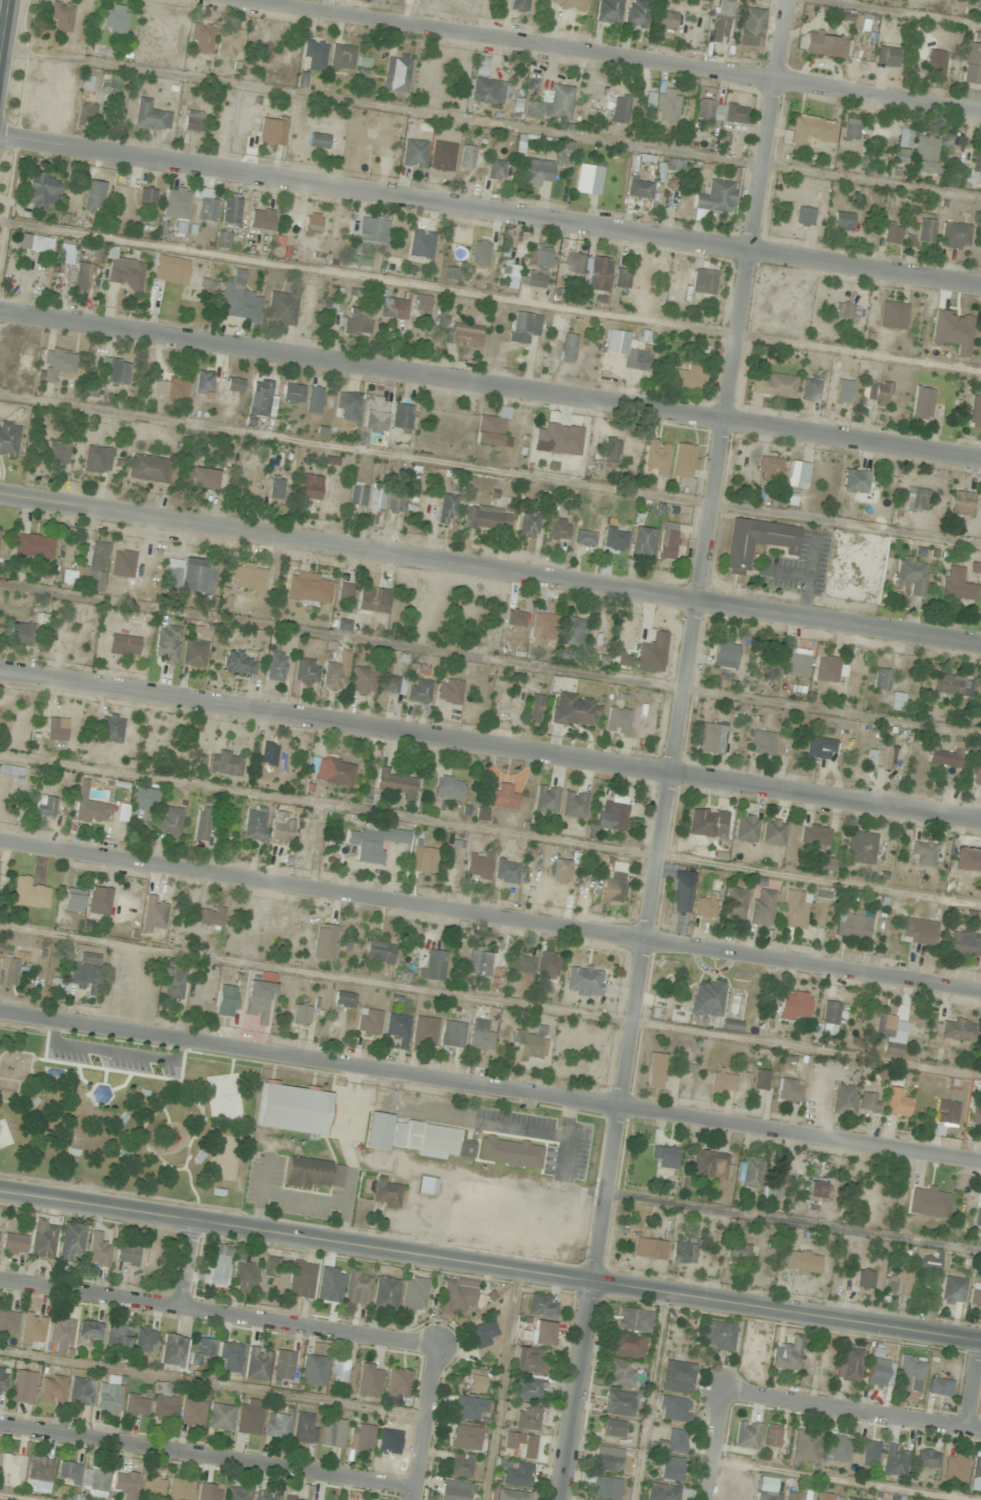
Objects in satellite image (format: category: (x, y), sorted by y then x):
road: (0, 1)
building: (567, 4)
building: (973, 5)
building: (518, 6)
building: (607, 11)
building: (636, 14)
building: (61, 17)
building: (114, 20)
building: (664, 21)
building: (720, 22)
building: (750, 29)
building: (201, 37)
building: (229, 43)
building: (824, 44)
road: (603, 54)
building: (314, 55)
building: (885, 56)
building: (341, 59)
building: (934, 62)
building: (971, 65)
building: (479, 70)
building: (396, 73)
building: (362, 76)
building: (87, 83)
building: (596, 90)
building: (487, 91)
building: (663, 102)
building: (551, 104)
building: (619, 108)
building: (708, 109)
building: (86, 114)
building: (735, 114)
building: (150, 116)
building: (192, 121)
building: (272, 130)
building: (810, 130)
building: (850, 130)
building: (369, 137)
building: (318, 141)
building: (902, 147)
building: (924, 150)
building: (564, 152)
building: (413, 154)
building: (466, 158)
building: (673, 165)
building: (974, 168)
building: (495, 170)
building: (538, 171)
building: (588, 177)
building: (639, 189)
building: (41, 190)
building: (93, 196)
building: (146, 196)
building: (716, 197)
building: (176, 203)
building: (205, 206)
building: (231, 209)
road: (490, 213)
building: (803, 216)
building: (261, 219)
building: (842, 221)
building: (315, 225)
building: (918, 228)
building: (371, 232)
building: (891, 232)
building: (953, 236)
building: (222, 239)
building: (34, 243)
building: (420, 246)
building: (65, 252)
building: (482, 257)
building: (540, 257)
building: (576, 263)
building: (169, 267)
building: (125, 273)
building: (451, 273)
building: (598, 274)
building: (78, 279)
building: (621, 279)
building: (532, 281)
building: (703, 282)
building: (238, 300)
building: (421, 303)
building: (393, 308)
building: (281, 310)
building: (846, 312)
building: (892, 315)
building: (357, 322)
building: (523, 327)
building: (951, 330)
building: (461, 337)
building: (567, 347)
building: (629, 359)
building: (57, 364)
building: (116, 371)
building: (688, 379)
building: (203, 383)
building: (234, 385)
road: (490, 386)
building: (774, 386)
building: (166, 387)
building: (809, 388)
building: (842, 391)
building: (875, 392)
building: (292, 393)
building: (261, 399)
building: (314, 400)
building: (920, 403)
building: (347, 406)
building: (974, 412)
building: (374, 414)
building: (401, 418)
building: (492, 429)
building: (361, 438)
building: (8, 439)
building: (557, 440)
building: (57, 452)
building: (606, 457)
building: (656, 457)
building: (97, 459)
building: (682, 460)
building: (151, 469)
building: (769, 469)
building: (797, 474)
building: (200, 478)
building: (855, 481)
building: (308, 487)
building: (275, 489)
building: (357, 494)
building: (376, 498)
building: (914, 500)
building: (394, 502)
building: (960, 504)
building: (446, 508)
building: (486, 518)
building: (528, 525)
building: (557, 529)
building: (0, 538)
building: (596, 540)
building: (667, 540)
building: (642, 541)
building: (756, 542)
building: (35, 546)
building: (92, 569)
road: (490, 571)
building: (189, 576)
building: (910, 576)
building: (247, 578)
building: (956, 587)
building: (308, 589)
building: (346, 592)
building: (373, 600)
building: (343, 626)
building: (543, 626)
building: (515, 631)
building: (573, 632)
building: (21, 634)
road: (691, 641)
building: (167, 643)
building: (123, 645)
building: (194, 654)
building: (725, 654)
building: (794, 662)
building: (239, 664)
building: (276, 665)
building: (826, 669)
building: (306, 671)
building: (336, 673)
building: (361, 680)
building: (880, 680)
building: (392, 685)
building: (950, 685)
building: (419, 691)
building: (448, 691)
building: (895, 701)
building: (534, 708)
building: (575, 711)
building: (617, 720)
building: (56, 729)
building: (110, 730)
building: (711, 738)
building: (761, 742)
road: (490, 748)
building: (819, 748)
building: (878, 757)
building: (944, 757)
building: (271, 761)
building: (10, 771)
building: (332, 771)
building: (976, 777)
building: (394, 784)
building: (448, 786)
building: (142, 798)
building: (502, 798)
building: (545, 801)
building: (574, 805)
building: (45, 806)
building: (89, 807)
building: (612, 814)
building: (169, 821)
building: (254, 823)
building: (707, 823)
building: (202, 824)
building: (282, 828)
building: (745, 828)
building: (772, 832)
building: (813, 835)
building: (371, 843)
building: (860, 847)
building: (921, 853)
building: (421, 859)
building: (967, 860)
building: (826, 863)
building: (478, 866)
building: (560, 871)
building: (506, 872)
building: (614, 883)
building: (980, 886)
building: (17, 889)
building: (41, 893)
building: (681, 896)
building: (73, 900)
building: (99, 901)
building: (734, 902)
building: (761, 907)
building: (705, 908)
building: (794, 909)
building: (153, 915)
building: (208, 915)
road: (490, 915)
building: (853, 925)
building: (917, 932)
building: (323, 942)
building: (964, 944)
building: (379, 951)
building: (479, 961)
building: (522, 964)
building: (14, 965)
building: (547, 965)
building: (432, 966)
building: (82, 974)
building: (496, 979)
building: (583, 981)
building: (172, 982)
building: (344, 999)
building: (707, 999)
building: (226, 1001)
building: (258, 1002)
building: (795, 1004)
building: (833, 1013)
building: (301, 1015)
building: (368, 1022)
building: (731, 1025)
building: (397, 1029)
building: (956, 1029)
building: (424, 1031)
building: (452, 1034)
building: (886, 1034)
building: (480, 1038)
building: (530, 1046)
building: (655, 1071)
building: (759, 1079)
building: (722, 1081)
road: (490, 1088)
building: (788, 1091)
building: (100, 1095)
building: (843, 1099)
building: (896, 1100)
building: (869, 1103)
building: (292, 1109)
building: (946, 1112)
building: (975, 1115)
building: (378, 1131)
building: (430, 1141)
building: (665, 1156)
building: (709, 1165)
building: (750, 1172)
building: (314, 1173)
building: (426, 1186)
building: (816, 1191)
building: (386, 1193)
building: (771, 1194)
building: (928, 1201)
building: (980, 1215)
road: (295, 1237)
building: (43, 1238)
building: (71, 1242)
building: (13, 1243)
building: (649, 1248)
building: (97, 1250)
building: (738, 1252)
building: (683, 1253)
building: (126, 1255)
building: (801, 1262)
building: (929, 1263)
road: (187, 1264)
building: (219, 1265)
building: (272, 1266)
building: (244, 1274)
building: (301, 1279)
building: (864, 1279)
building: (898, 1282)
building: (357, 1288)
building: (953, 1290)
building: (385, 1294)
building: (414, 1295)
building: (975, 1295)
building: (457, 1298)
building: (542, 1306)
road: (219, 1312)
road: (786, 1314)
building: (8, 1320)
building: (633, 1320)
building: (32, 1329)
building: (89, 1330)
building: (483, 1333)
building: (542, 1333)
building: (61, 1335)
building: (718, 1336)
building: (117, 1338)
building: (145, 1339)
building: (628, 1347)
building: (199, 1349)
building: (172, 1350)
building: (787, 1354)
building: (229, 1356)
building: (529, 1361)
building: (257, 1363)
building: (283, 1364)
building: (849, 1365)
building: (313, 1370)
building: (339, 1370)
building: (876, 1372)
building: (910, 1373)
building: (621, 1375)
building: (677, 1377)
building: (369, 1380)
building: (474, 1380)
building: (3, 1381)
building: (398, 1383)
building: (939, 1386)
building: (23, 1387)
building: (52, 1389)
building: (528, 1389)
road: (577, 1391)
building: (80, 1392)
building: (109, 1394)
road: (977, 1398)
building: (164, 1402)
building: (620, 1403)
building: (136, 1405)
building: (469, 1409)
building: (673, 1409)
road: (853, 1412)
building: (192, 1413)
building: (249, 1416)
building: (220, 1417)
building: (527, 1418)
road: (426, 1423)
building: (276, 1426)
building: (304, 1428)
building: (612, 1428)
building: (331, 1433)
building: (746, 1434)
building: (771, 1435)
building: (465, 1437)
building: (361, 1438)
building: (673, 1442)
building: (805, 1446)
road: (716, 1448)
building: (836, 1448)
building: (869, 1453)
building: (927, 1458)
road: (207, 1460)
building: (608, 1460)
building: (894, 1462)
building: (459, 1466)
building: (955, 1467)
building: (12, 1468)
building: (976, 1468)
building: (671, 1469)
building: (39, 1471)
building: (67, 1473)
building: (516, 1474)
building: (94, 1480)
building: (125, 1484)
building: (152, 1487)
building: (605, 1488)
building: (180, 1489)
building: (767, 1489)
building: (454, 1491)
building: (667, 1492)
building: (236, 1494)
building: (510, 1495)
building: (796, 1495)
building: (264, 1496)
building: (826, 1497)
building: (290, 1498)
building: (851, 1499)

